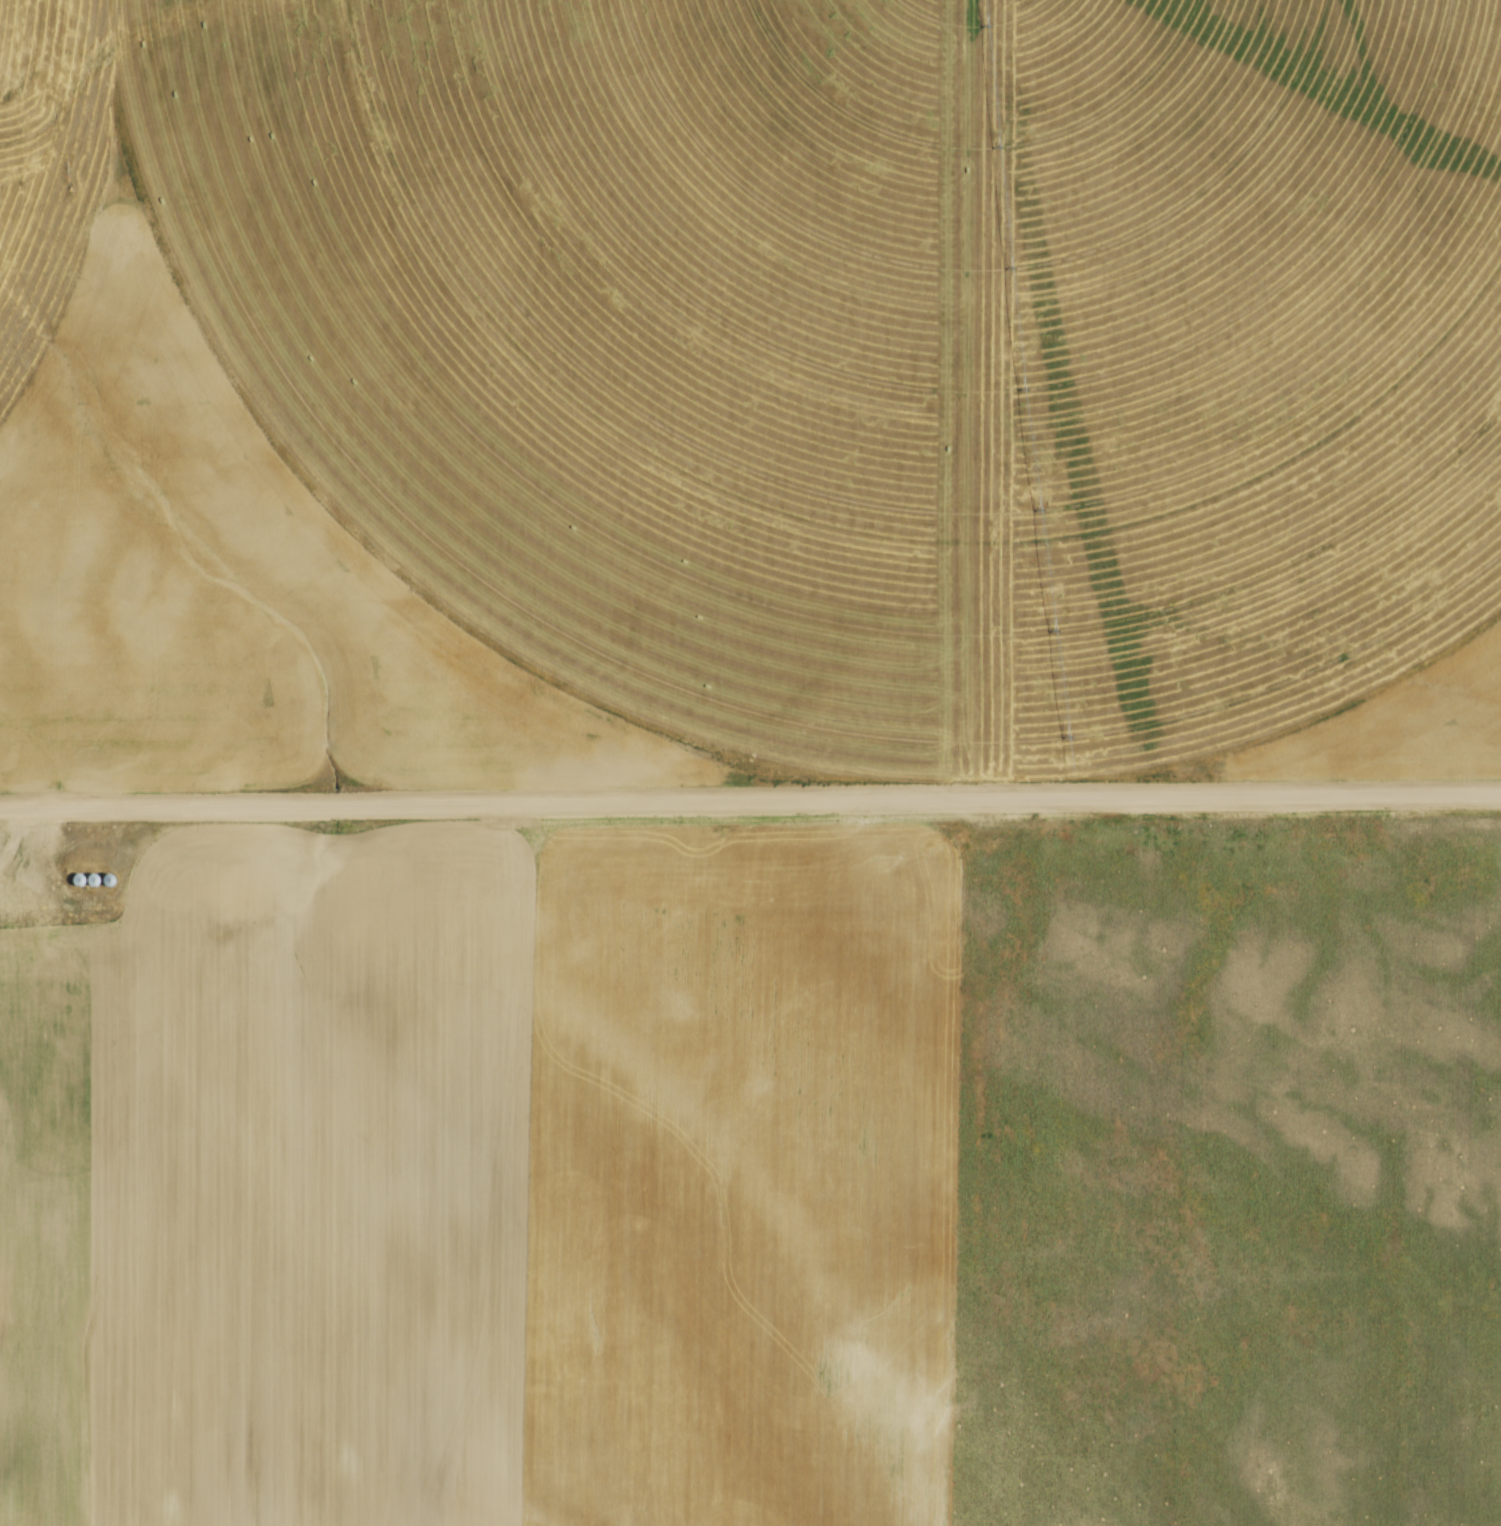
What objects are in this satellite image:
road: (750, 798)
road: (2, 817)
crop: (472, 1179)

